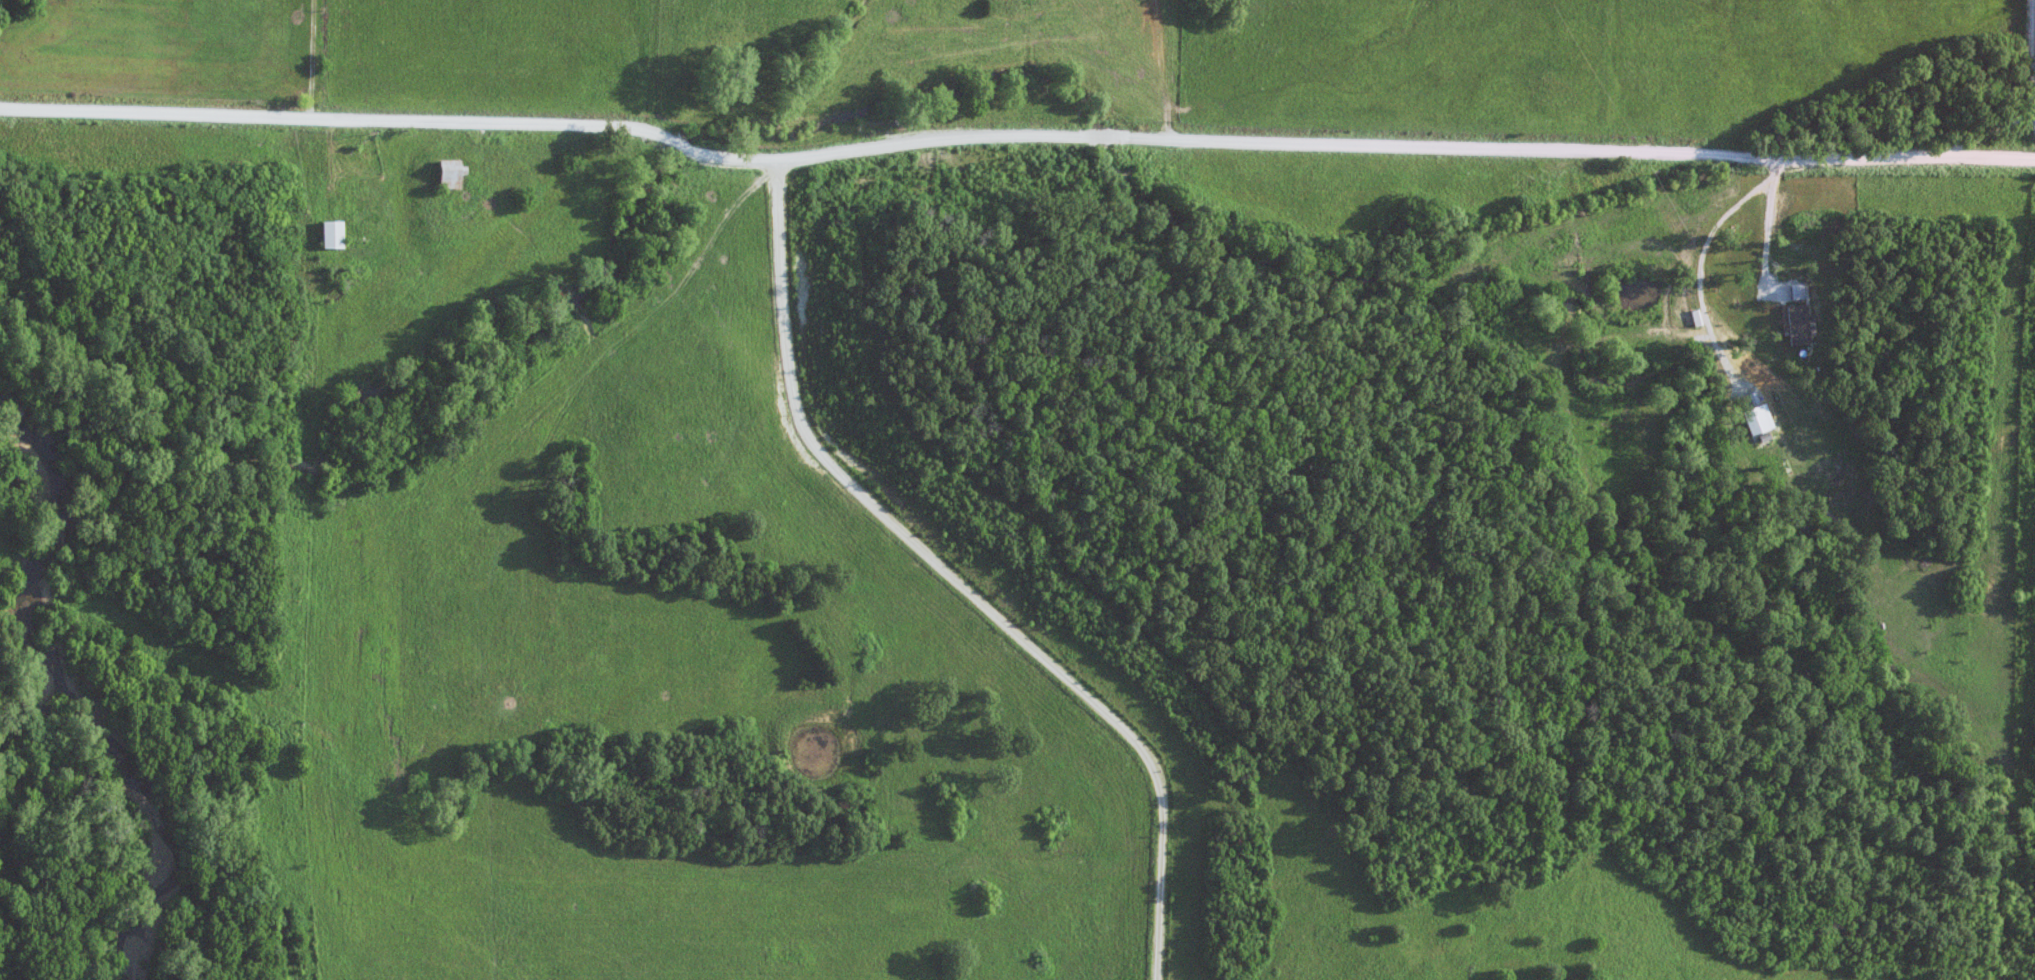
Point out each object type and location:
road: (2032, 85)
road: (1013, 133)
building: (456, 174)
road: (1765, 231)
building: (336, 235)
road: (958, 578)

